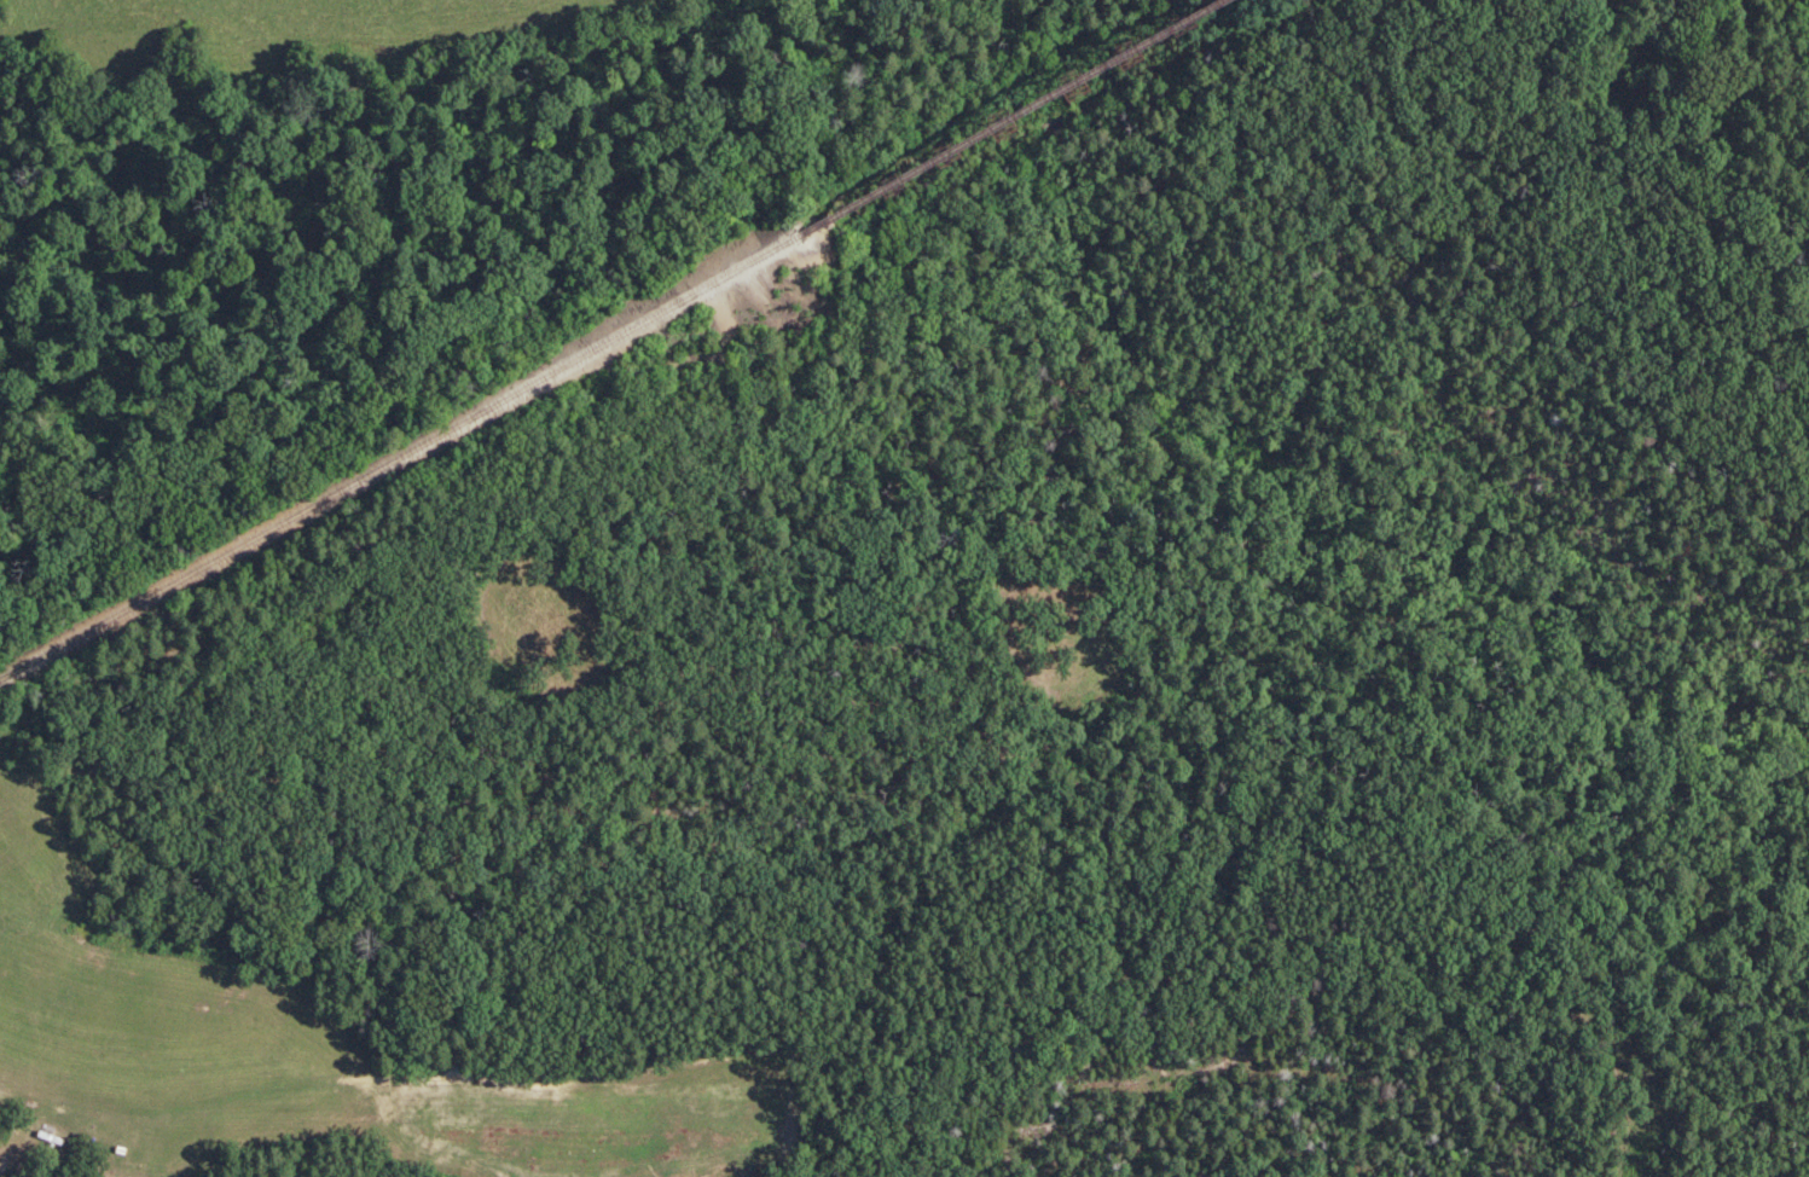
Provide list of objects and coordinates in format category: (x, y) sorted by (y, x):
railway: (1017, 120)
railway: (399, 457)

